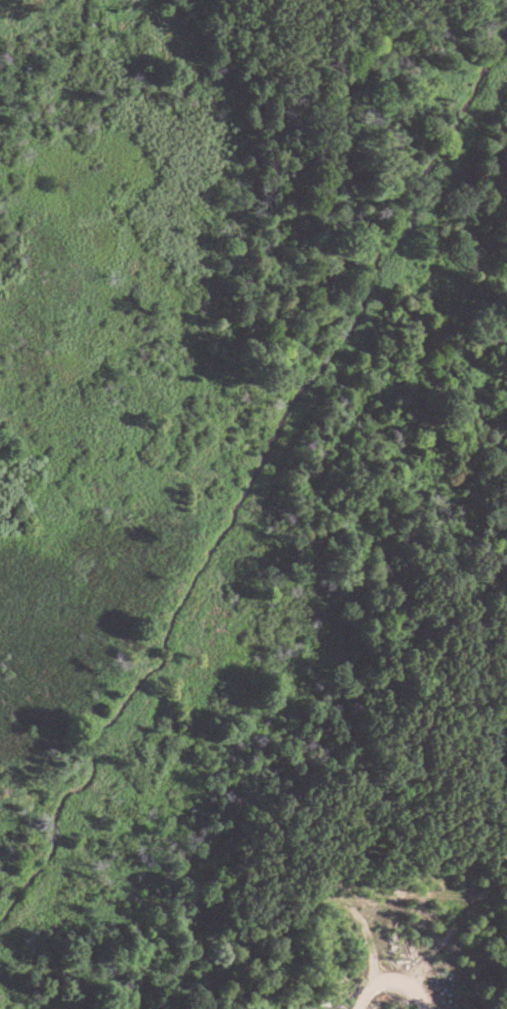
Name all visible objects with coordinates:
road: (391, 982)

